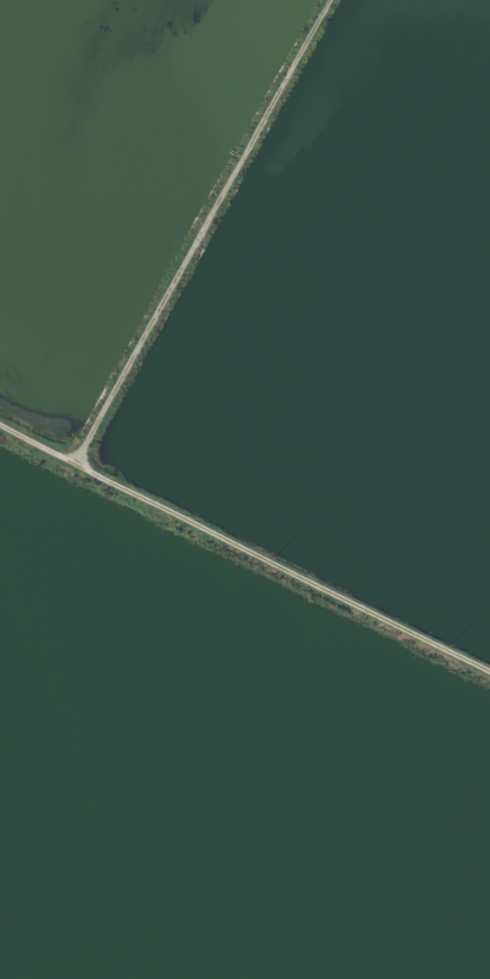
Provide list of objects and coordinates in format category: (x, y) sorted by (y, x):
road: (200, 231)
wastewater plant: (245, 489)
road: (244, 546)

